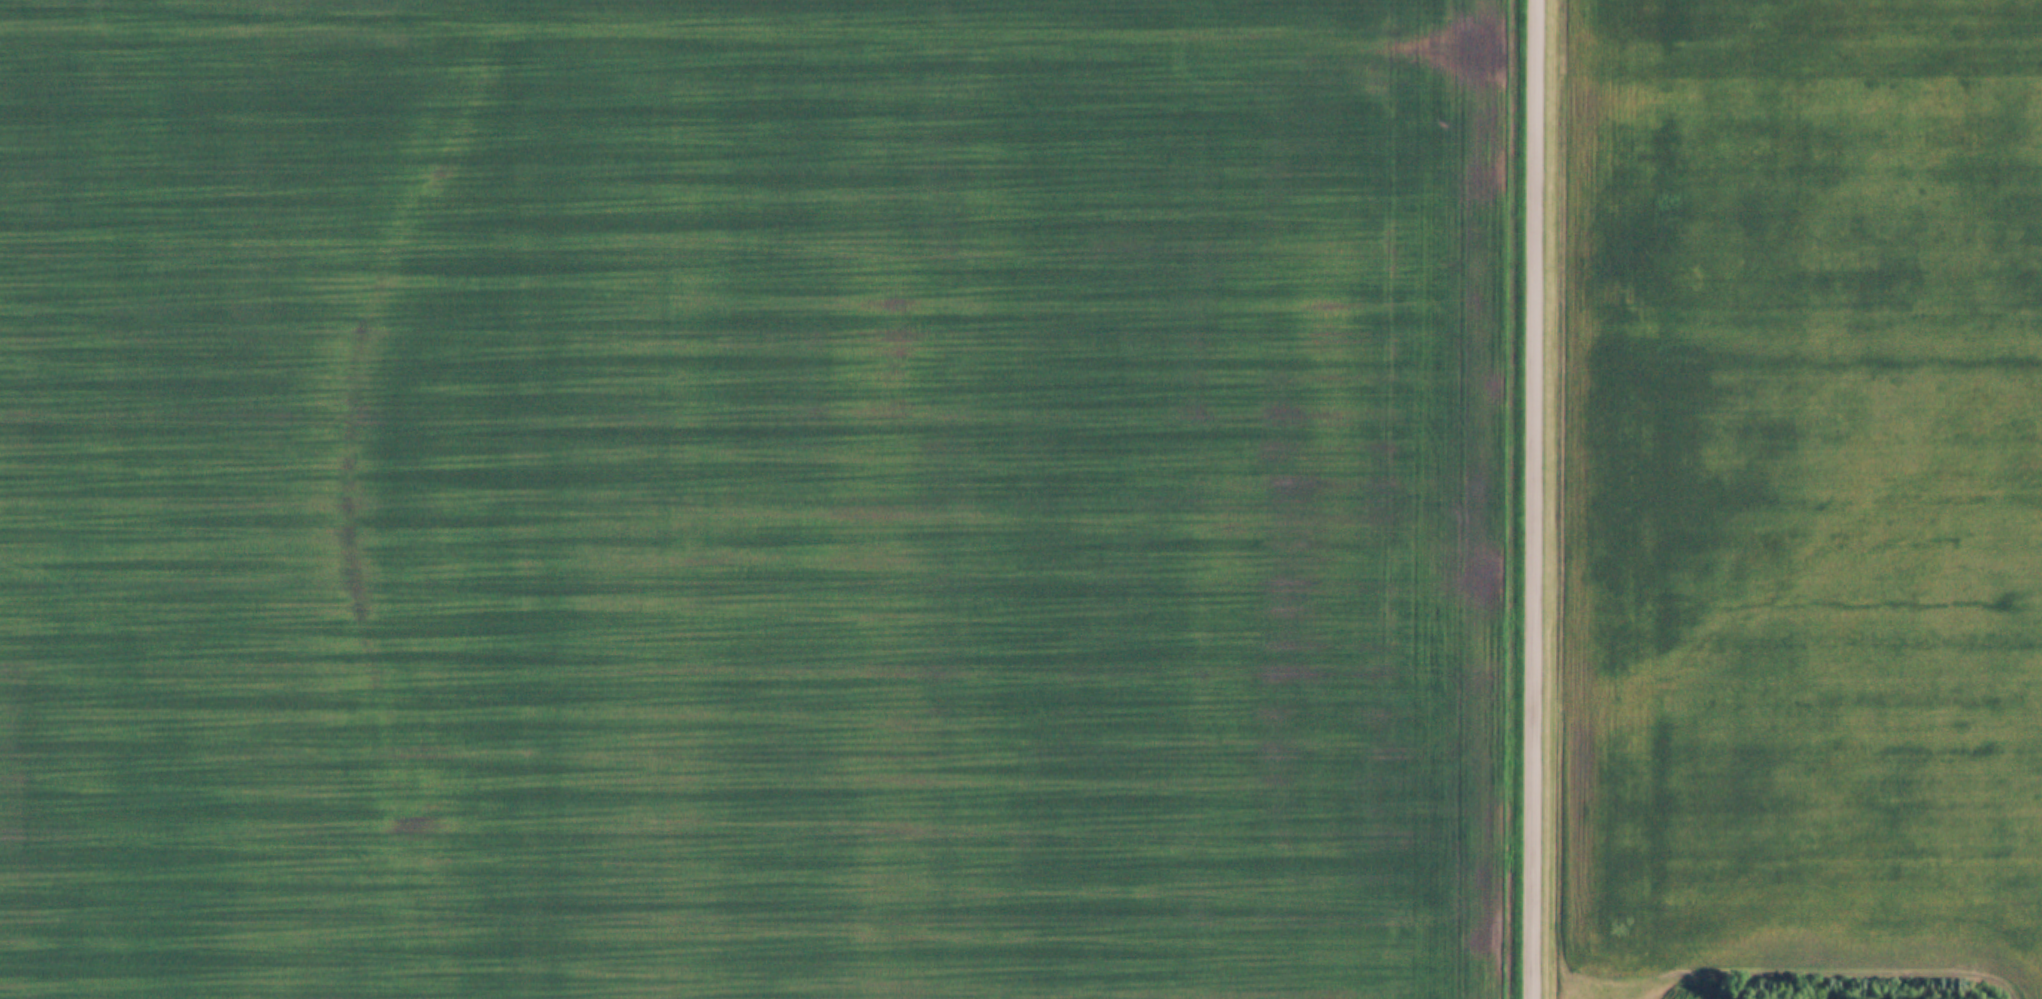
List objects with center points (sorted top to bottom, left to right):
road: (1537, 499)

